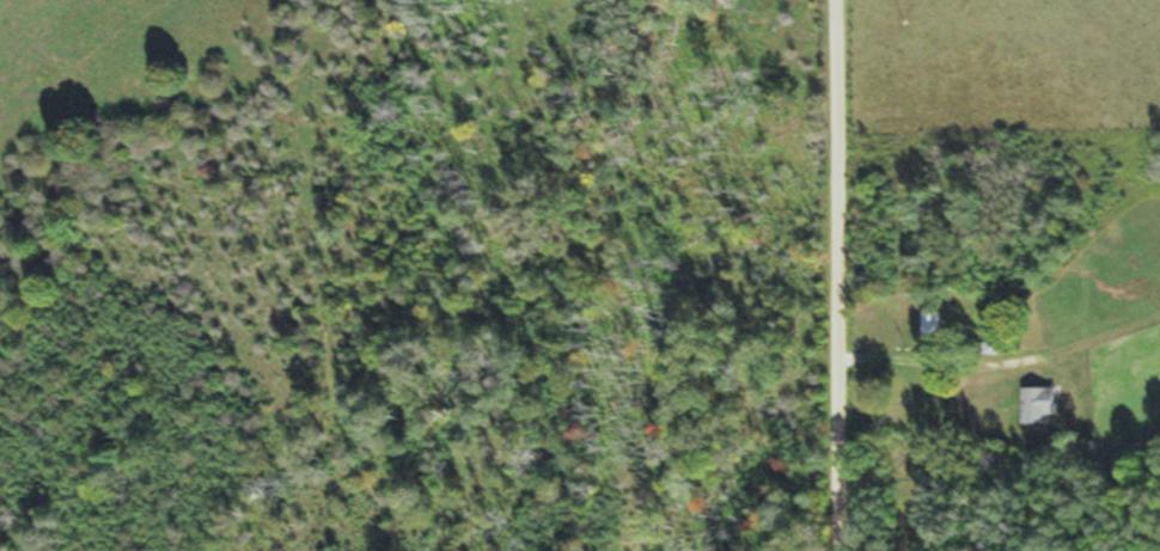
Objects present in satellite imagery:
road: (836, 275)
building: (927, 320)
building: (1034, 404)

